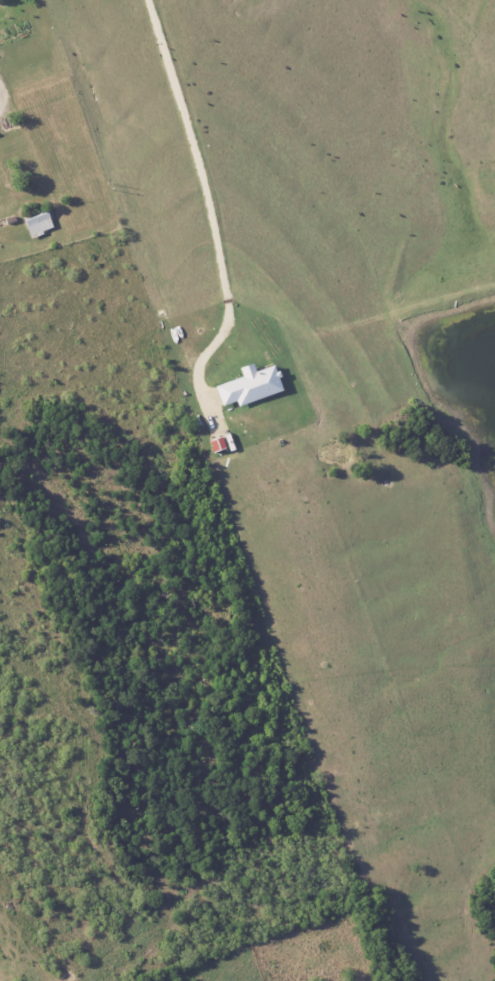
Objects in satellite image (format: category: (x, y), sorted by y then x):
road: (211, 200)
building: (37, 221)
building: (248, 385)

